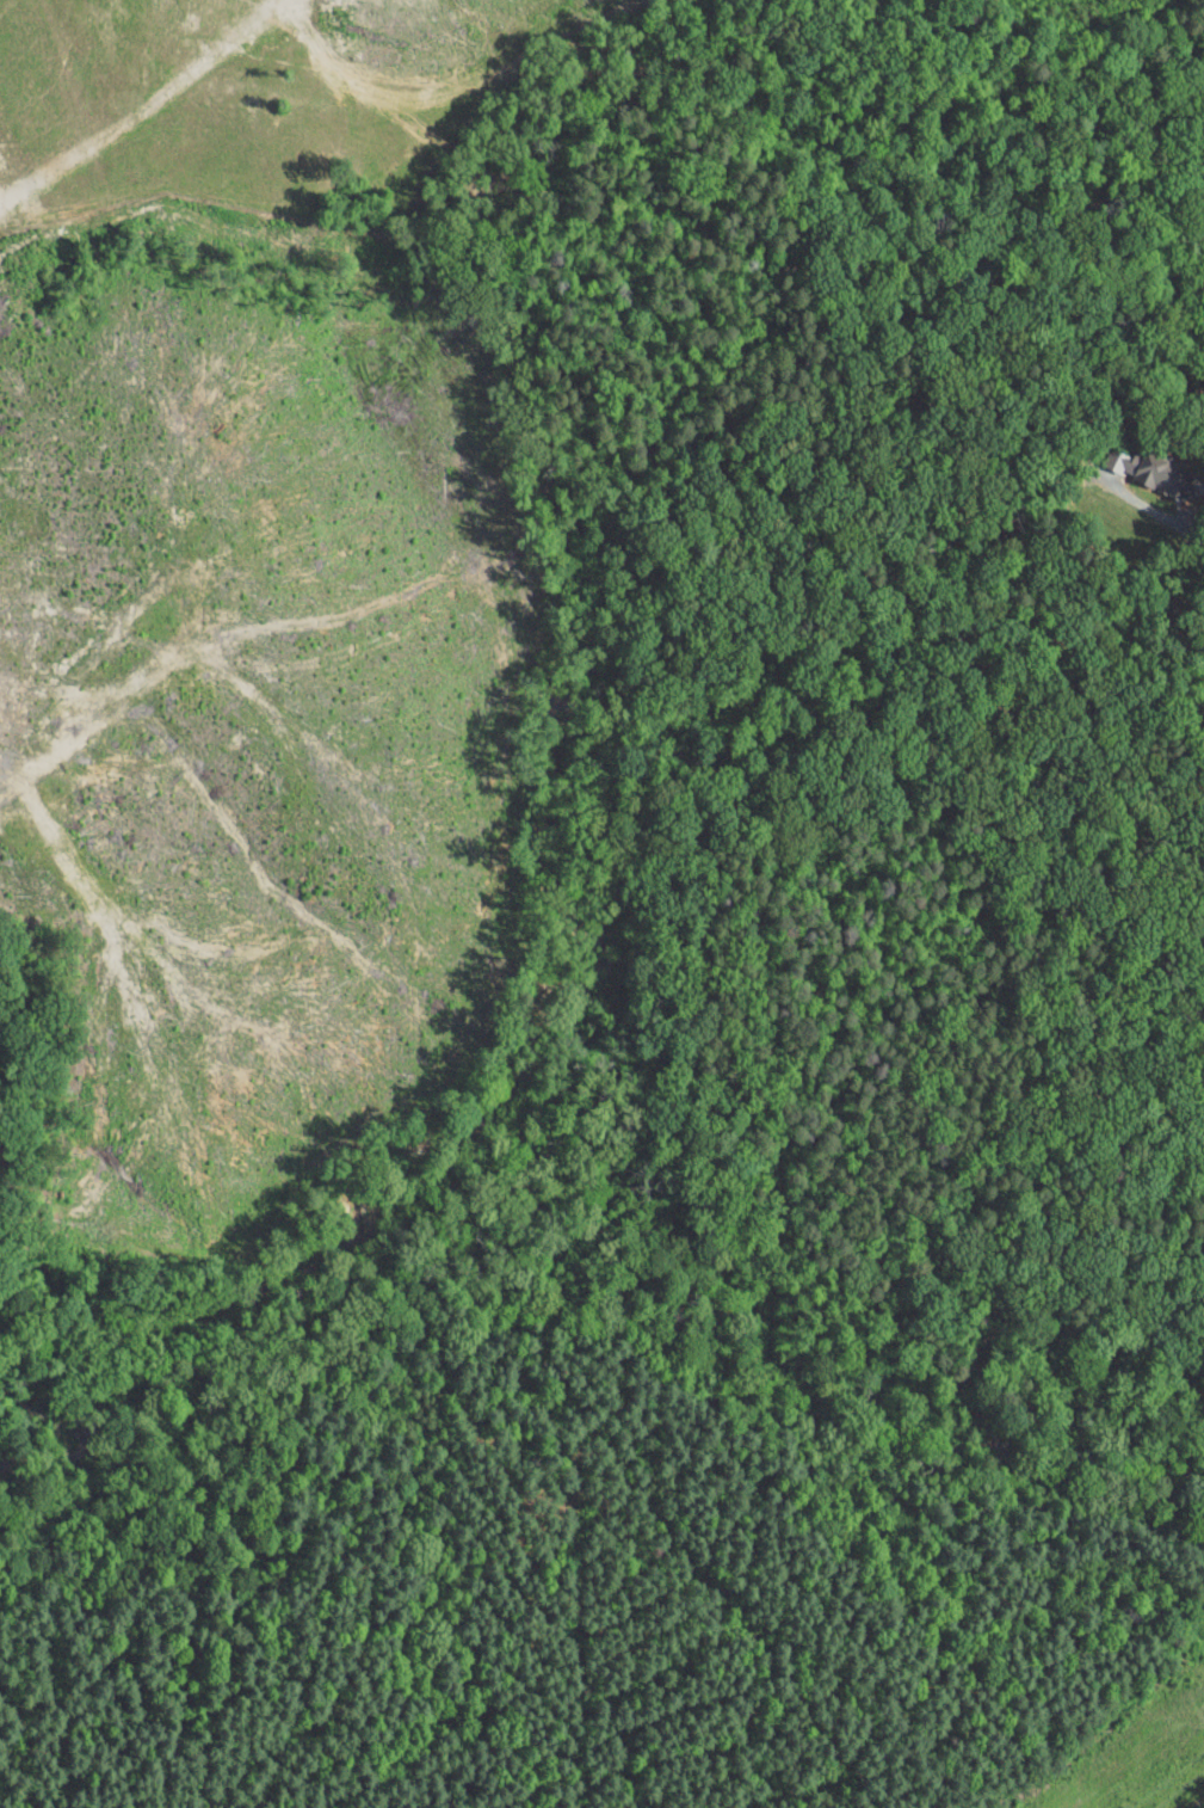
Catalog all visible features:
building: (1131, 461)
road: (1191, 536)

